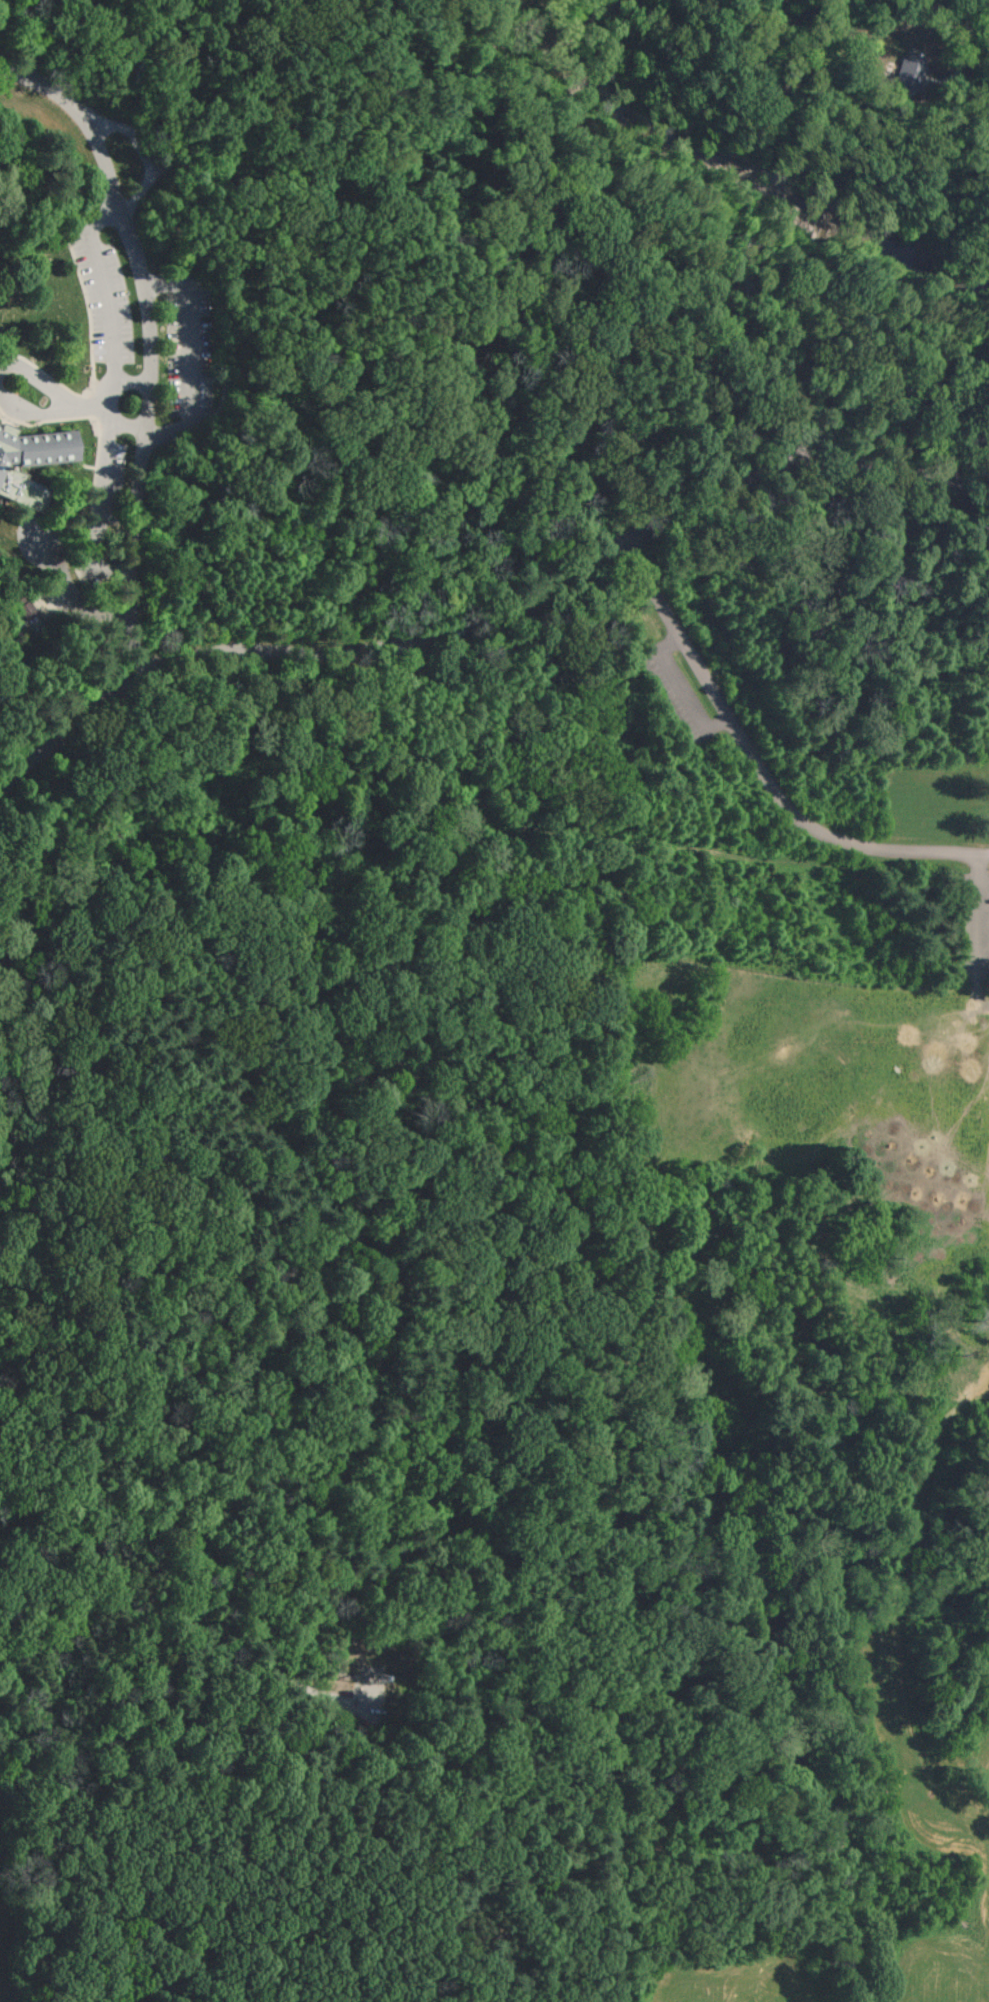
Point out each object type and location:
building: (3, 22)
parking lot: (983, 22)
road: (38, 40)
building: (910, 73)
road: (243, 118)
road: (146, 146)
road: (679, 245)
road: (860, 273)
road: (872, 285)
parking lot: (106, 296)
road: (144, 337)
parking lot: (189, 352)
road: (193, 356)
road: (797, 359)
road: (129, 384)
road: (113, 401)
road: (91, 406)
road: (118, 419)
parking lot: (806, 449)
building: (31, 464)
parking lot: (104, 510)
road: (485, 613)
road: (678, 690)
parking lot: (678, 692)
road: (756, 764)
road: (981, 913)
parking lot: (973, 924)
road: (408, 1309)
road: (349, 1617)

